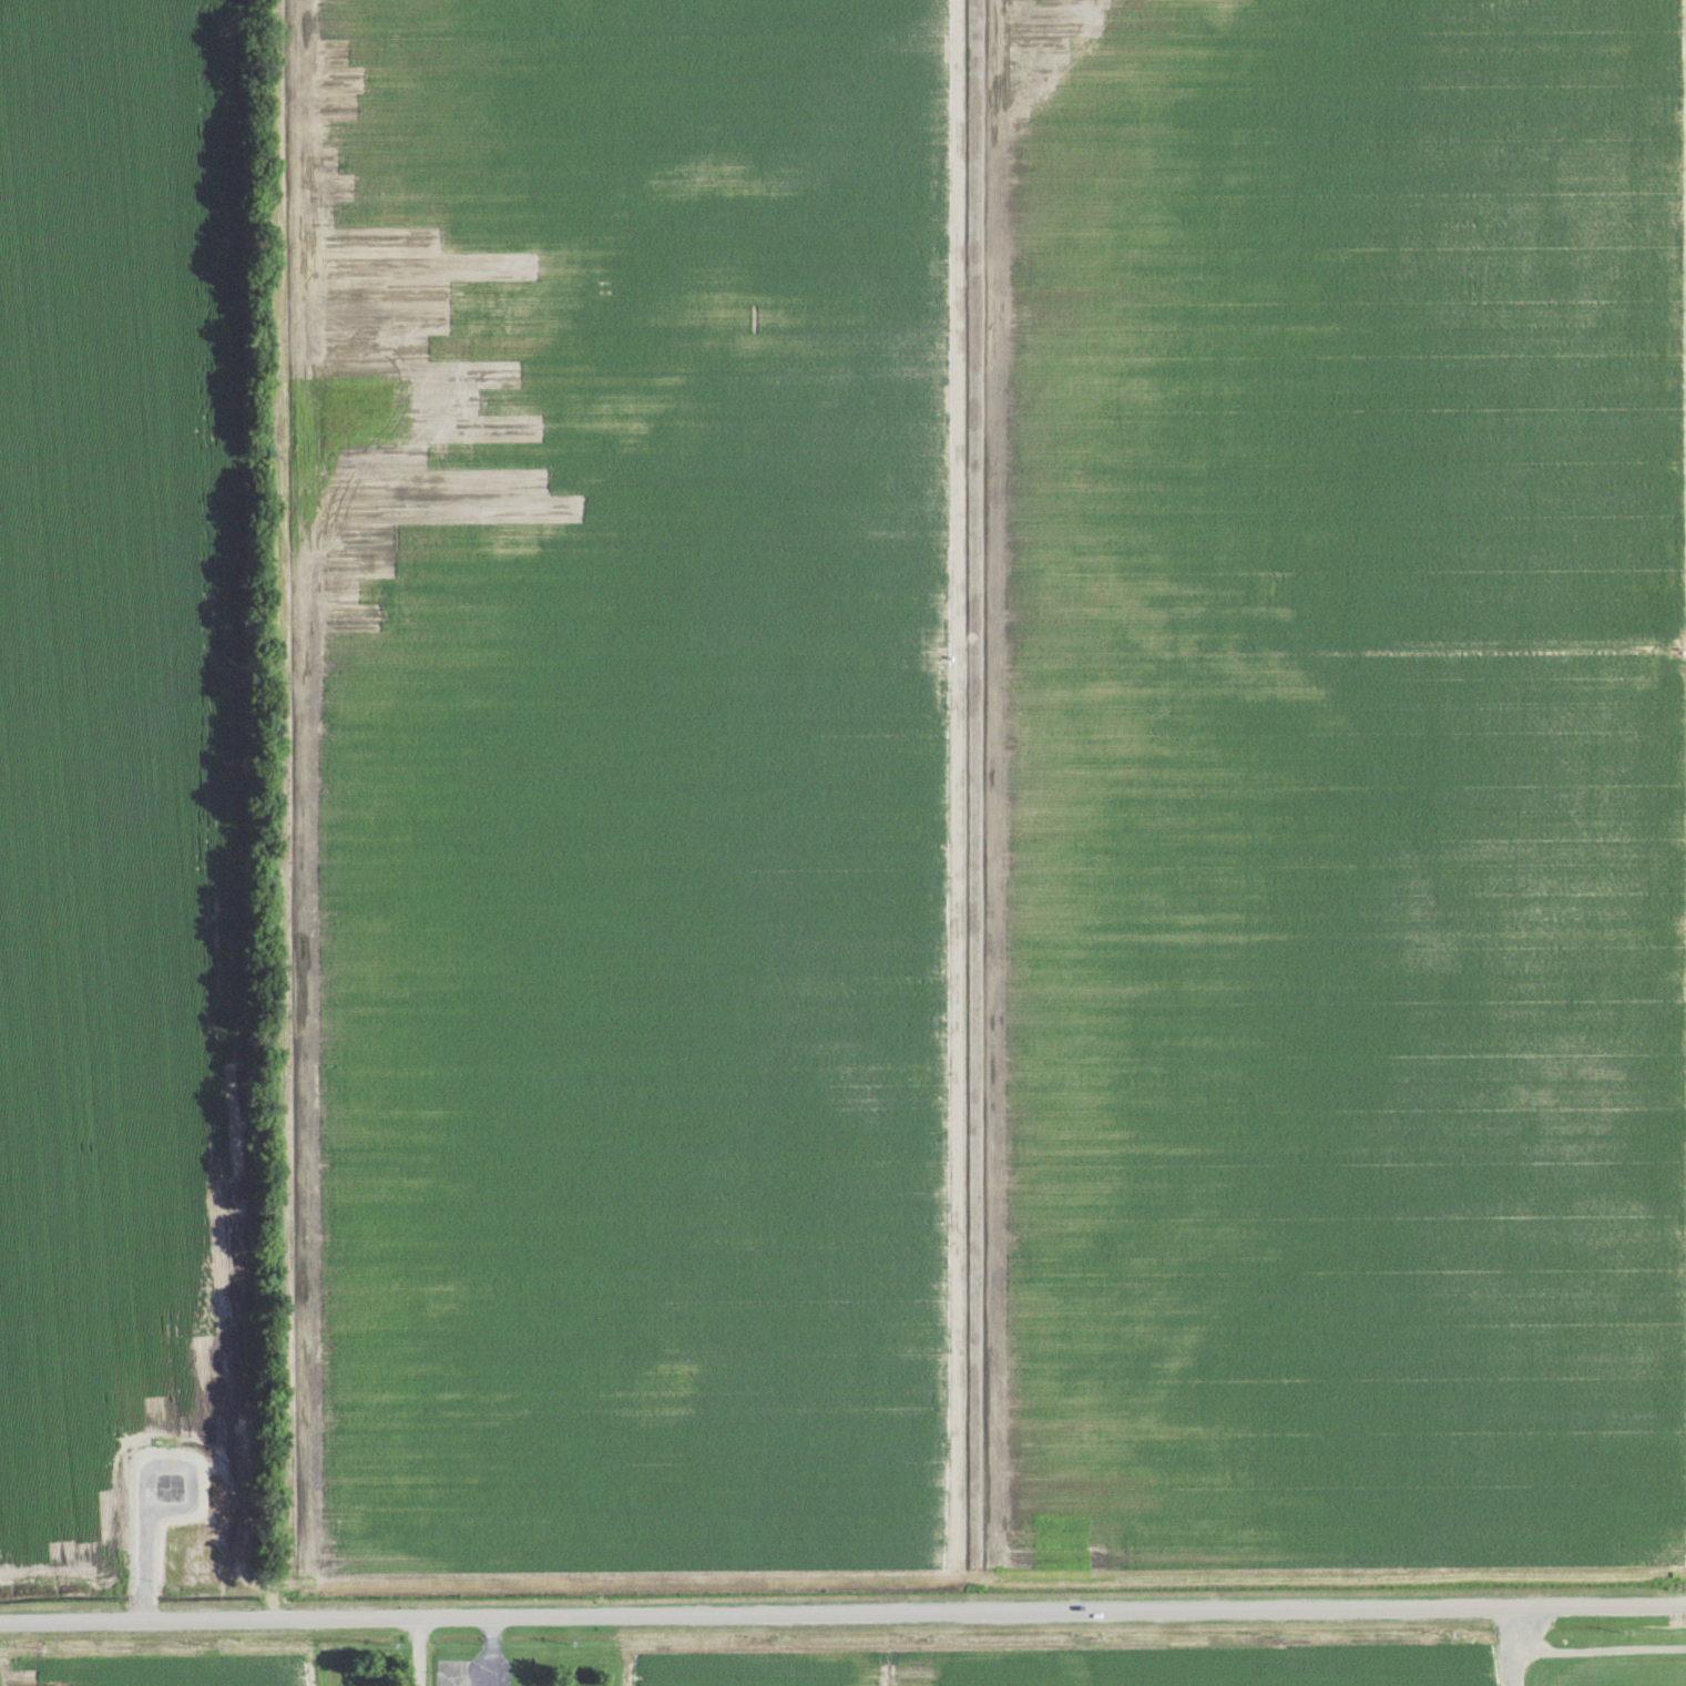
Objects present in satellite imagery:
road: (842, 1611)
road: (420, 1651)
road: (492, 1651)

